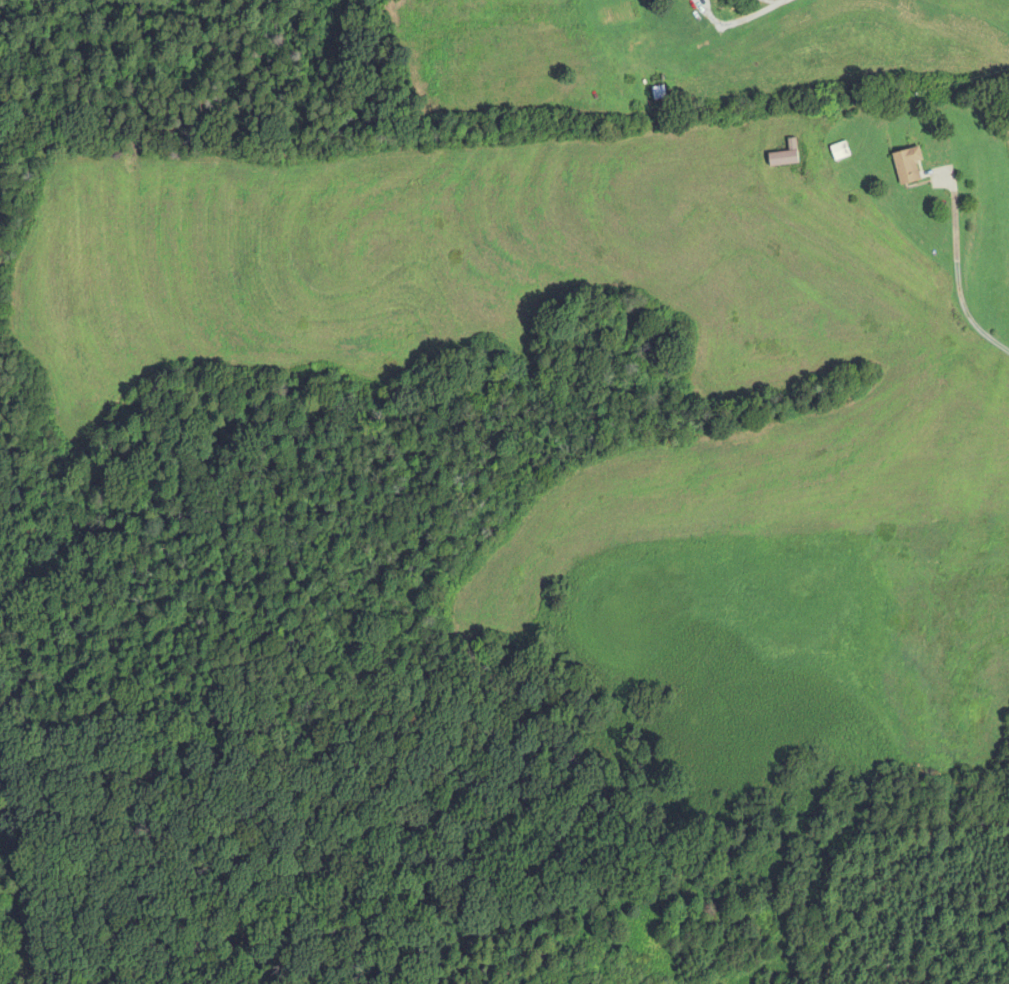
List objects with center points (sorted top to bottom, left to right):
road: (779, 0)
road: (782, 0)
road: (736, 21)
building: (664, 84)
building: (907, 166)
building: (840, 179)
road: (957, 272)

